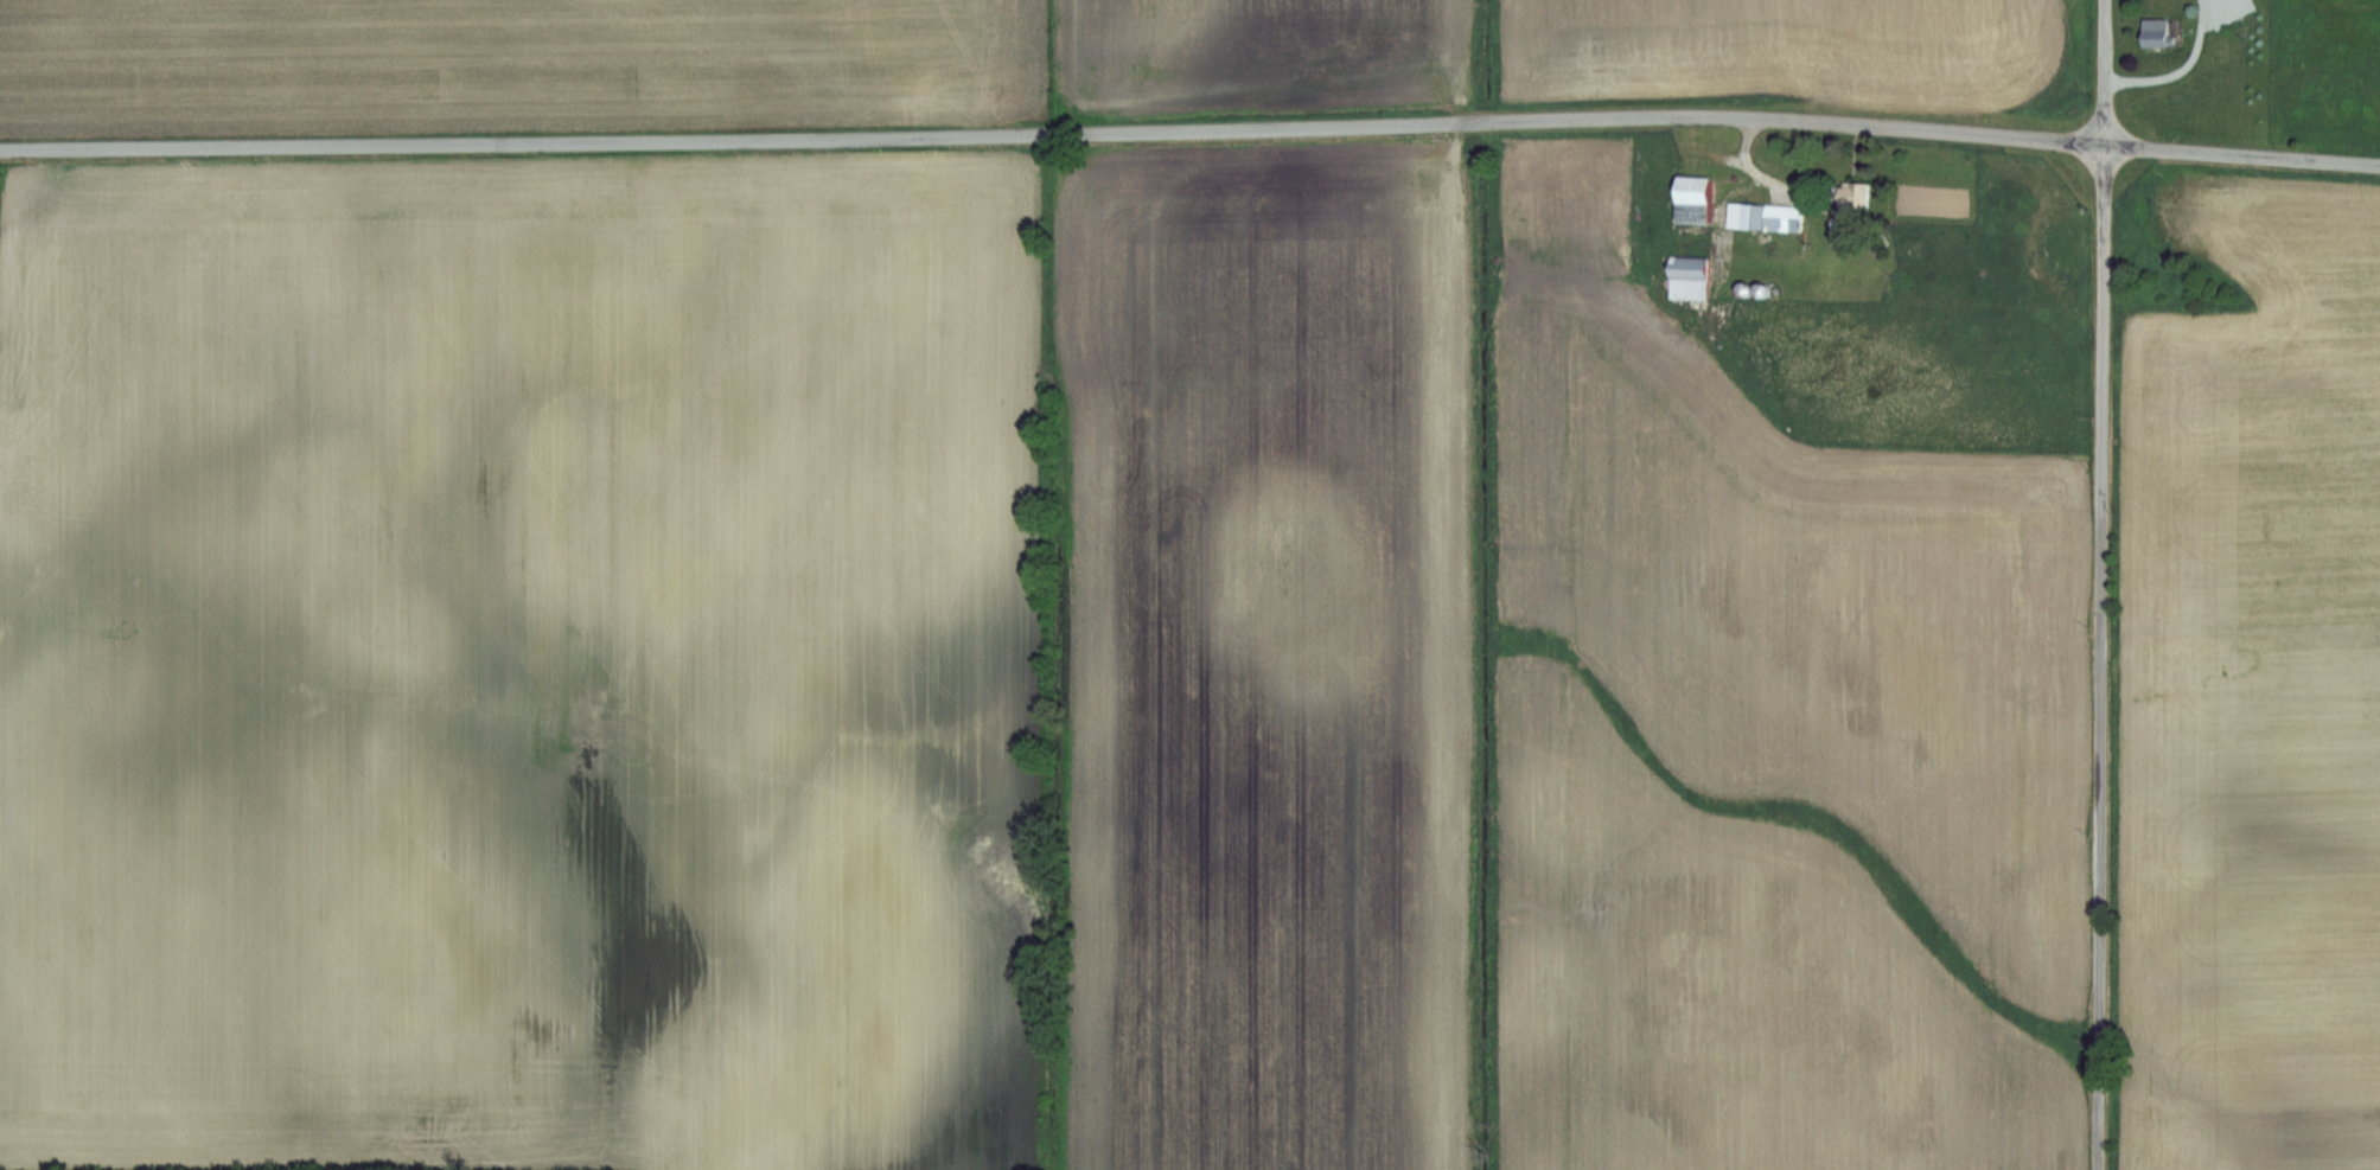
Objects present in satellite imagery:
building: (2156, 32)
road: (1051, 135)
road: (2240, 153)
building: (1853, 192)
building: (1691, 199)
building: (1763, 217)
building: (1687, 277)
road: (2101, 584)

